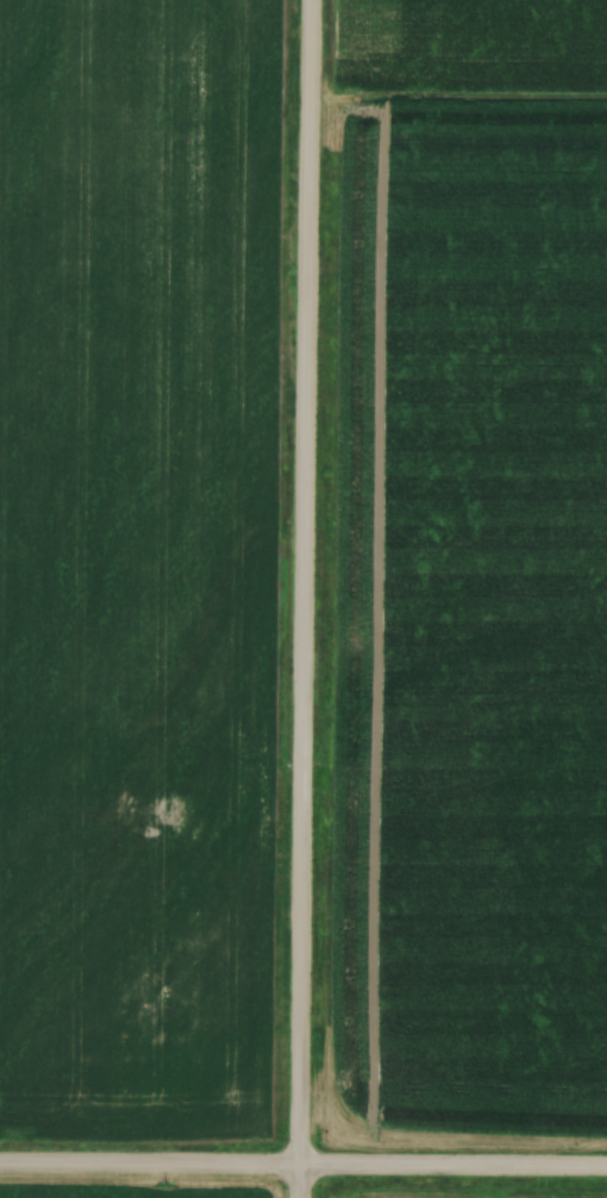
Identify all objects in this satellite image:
road: (303, 598)
road: (303, 1169)

